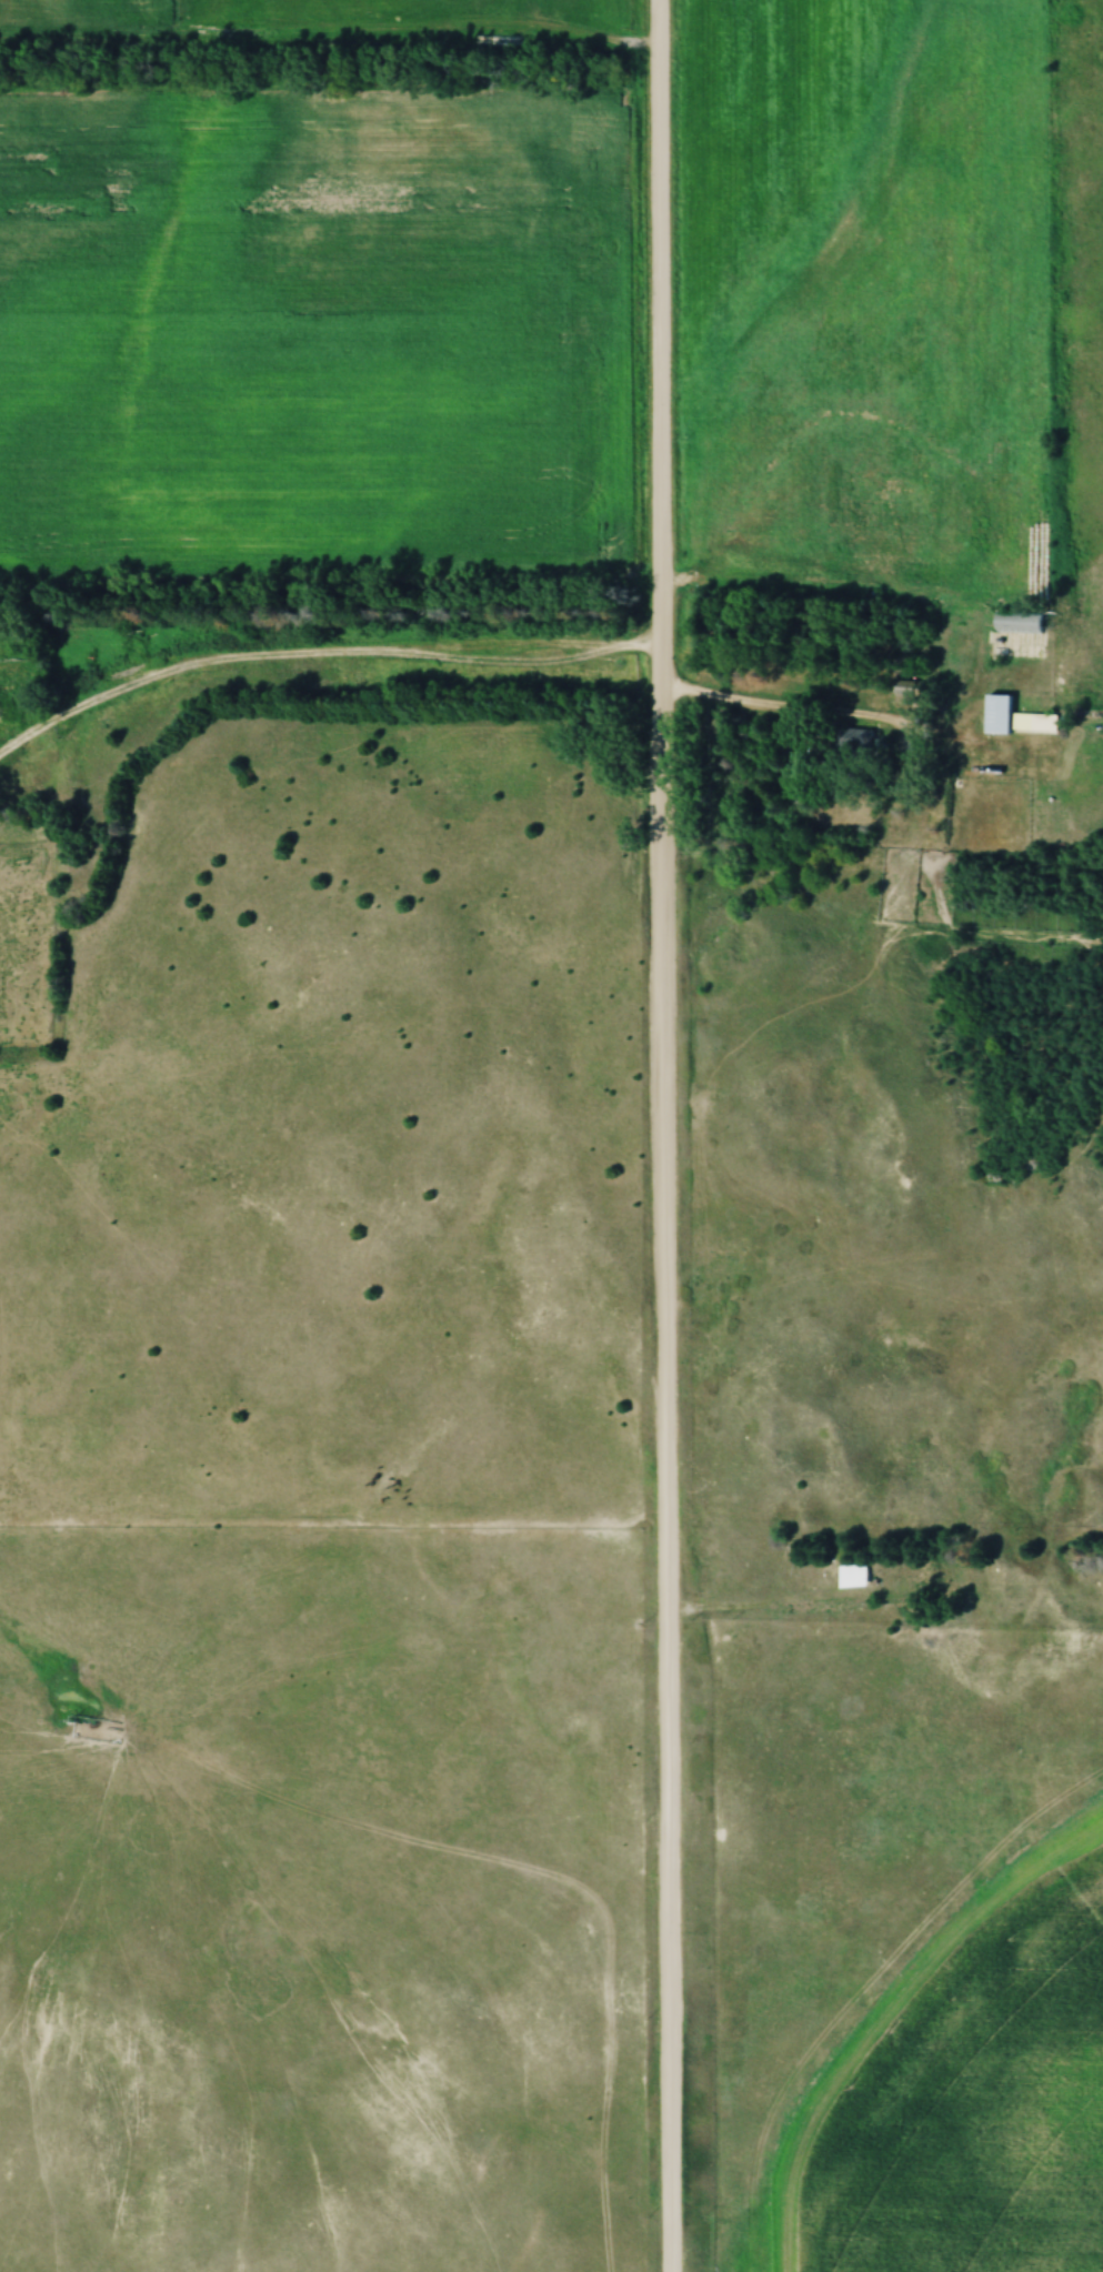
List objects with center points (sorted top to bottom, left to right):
building: (705, 551)
building: (1016, 621)
road: (315, 650)
building: (903, 694)
road: (823, 708)
building: (996, 712)
building: (1033, 721)
road: (663, 1135)
building: (853, 1575)
road: (765, 1599)

